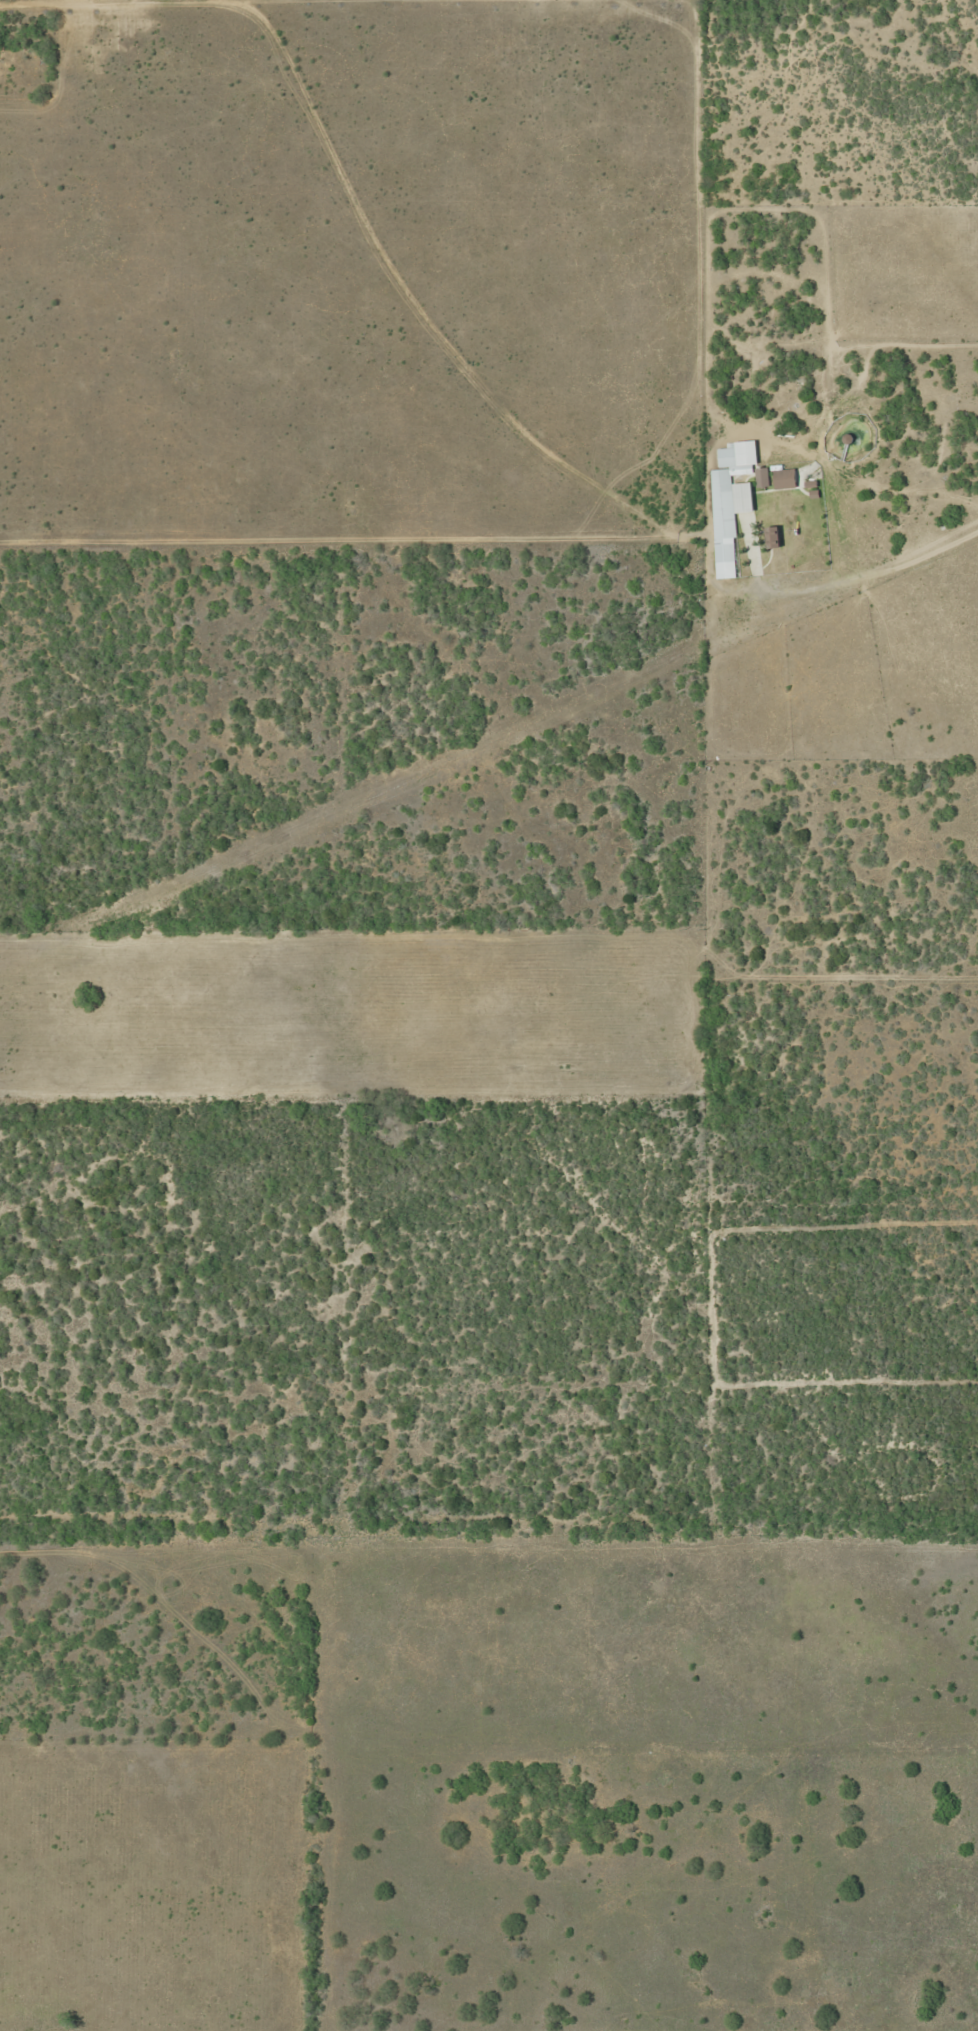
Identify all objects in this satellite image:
building: (743, 496)
road: (323, 1829)
road: (655, 2002)

